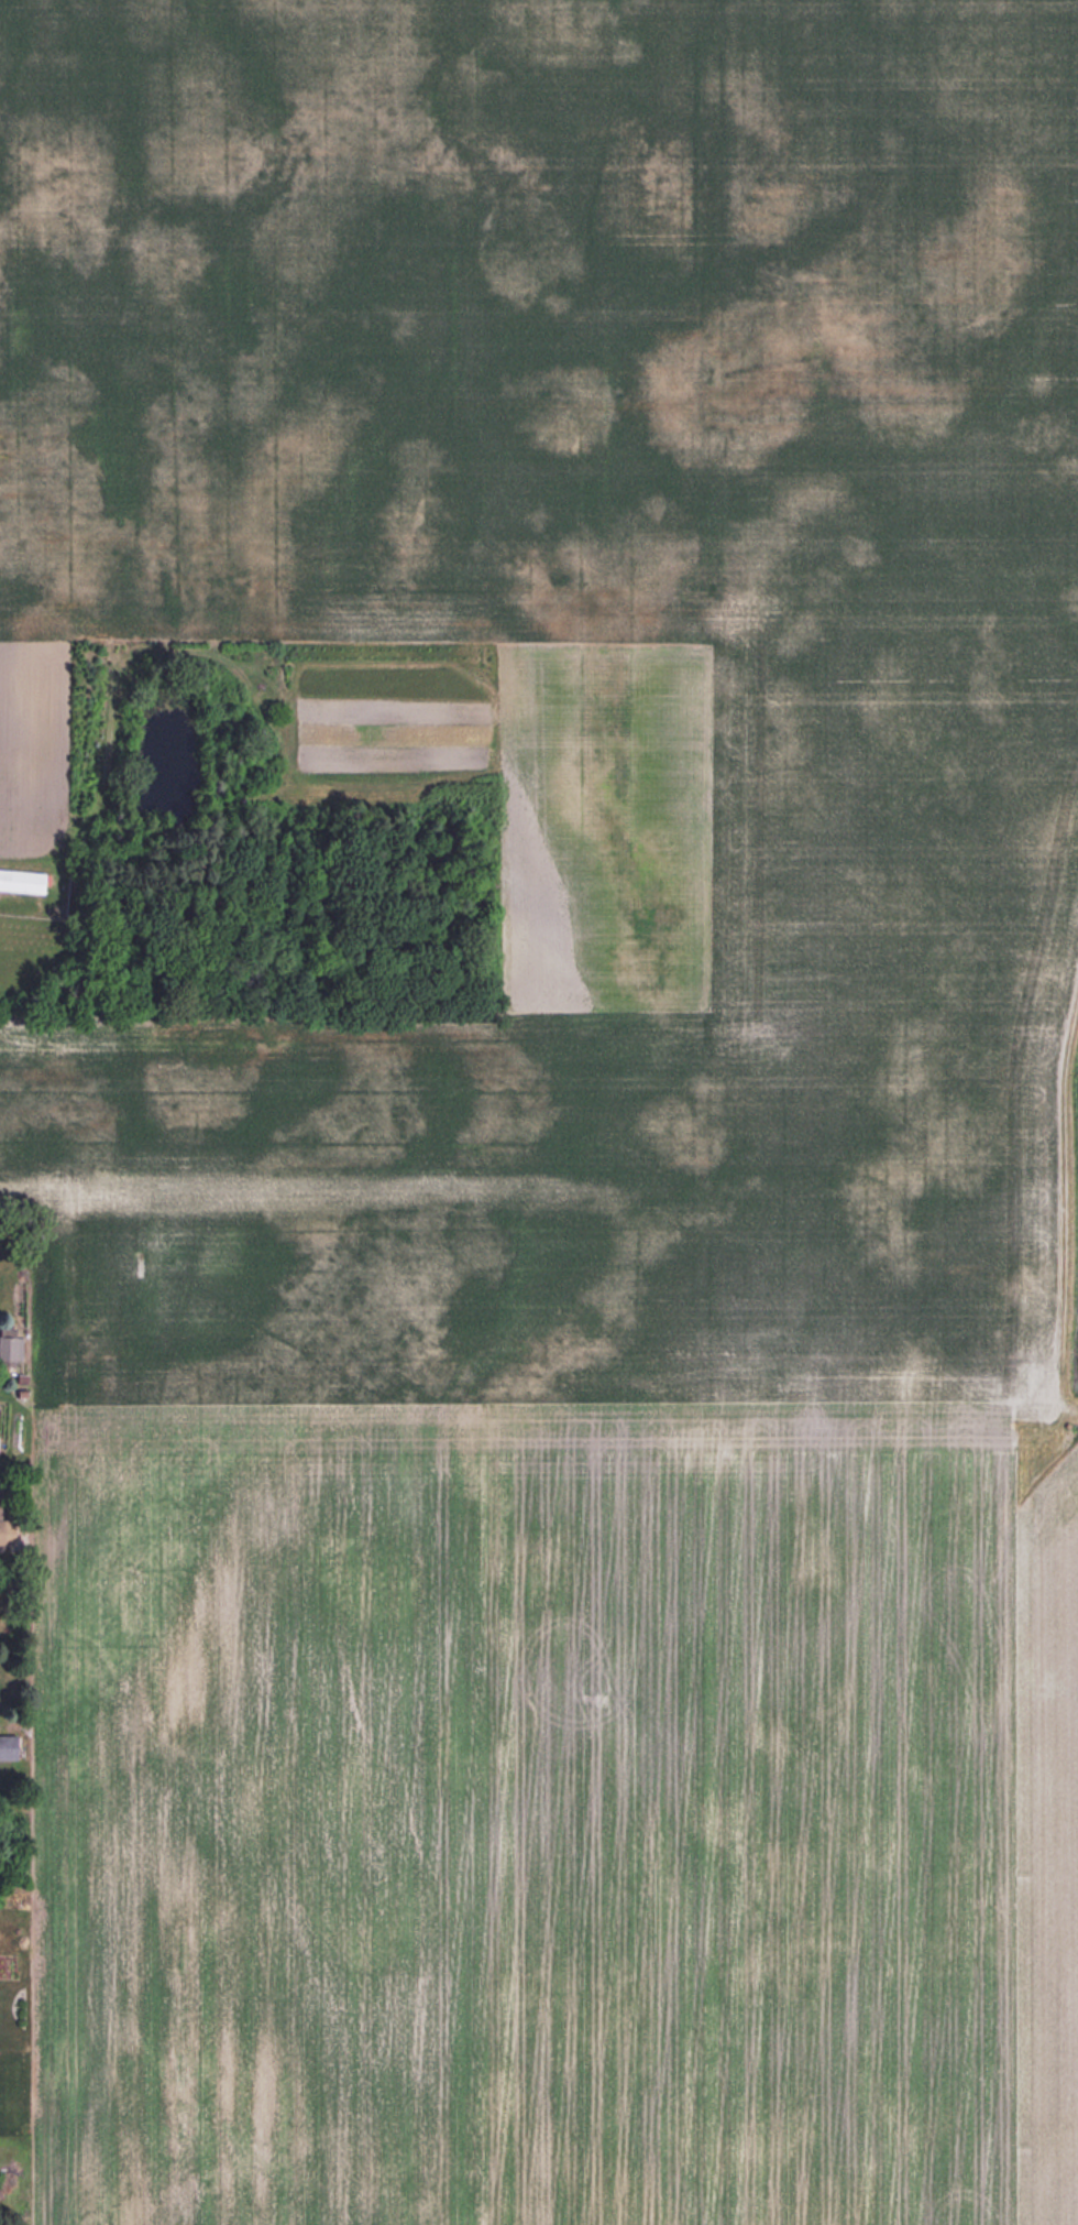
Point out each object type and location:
building: (21, 881)
building: (1057, 1291)
building: (9, 1344)
building: (7, 1747)

